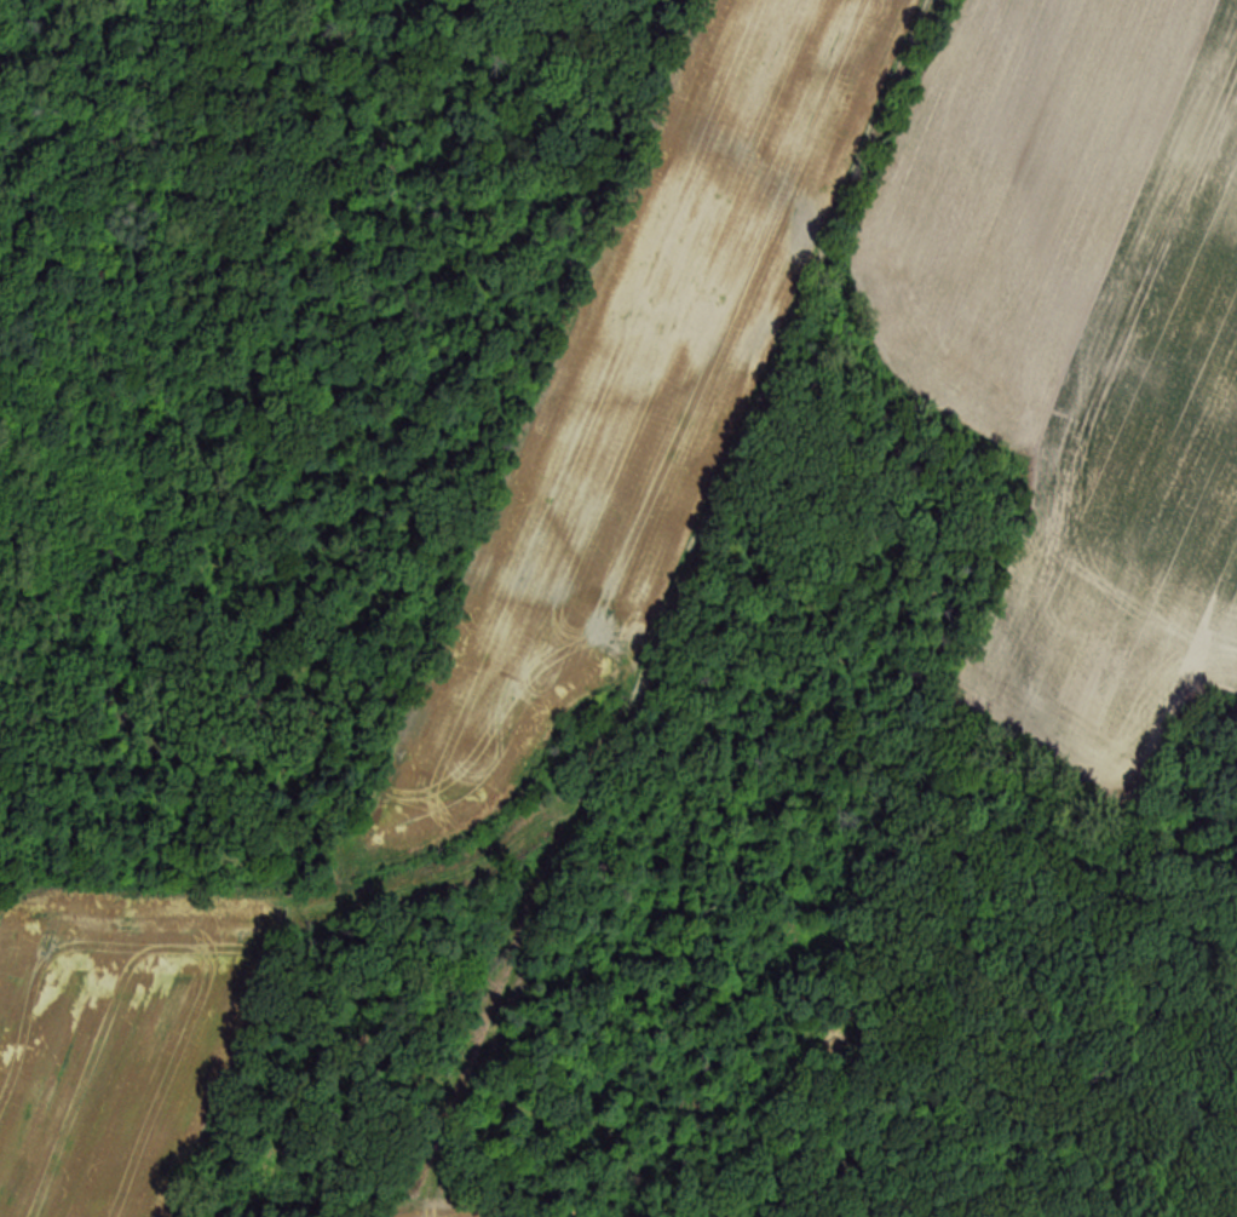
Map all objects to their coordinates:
crop: (1075, 333)
crop: (654, 375)
crop: (97, 1049)

